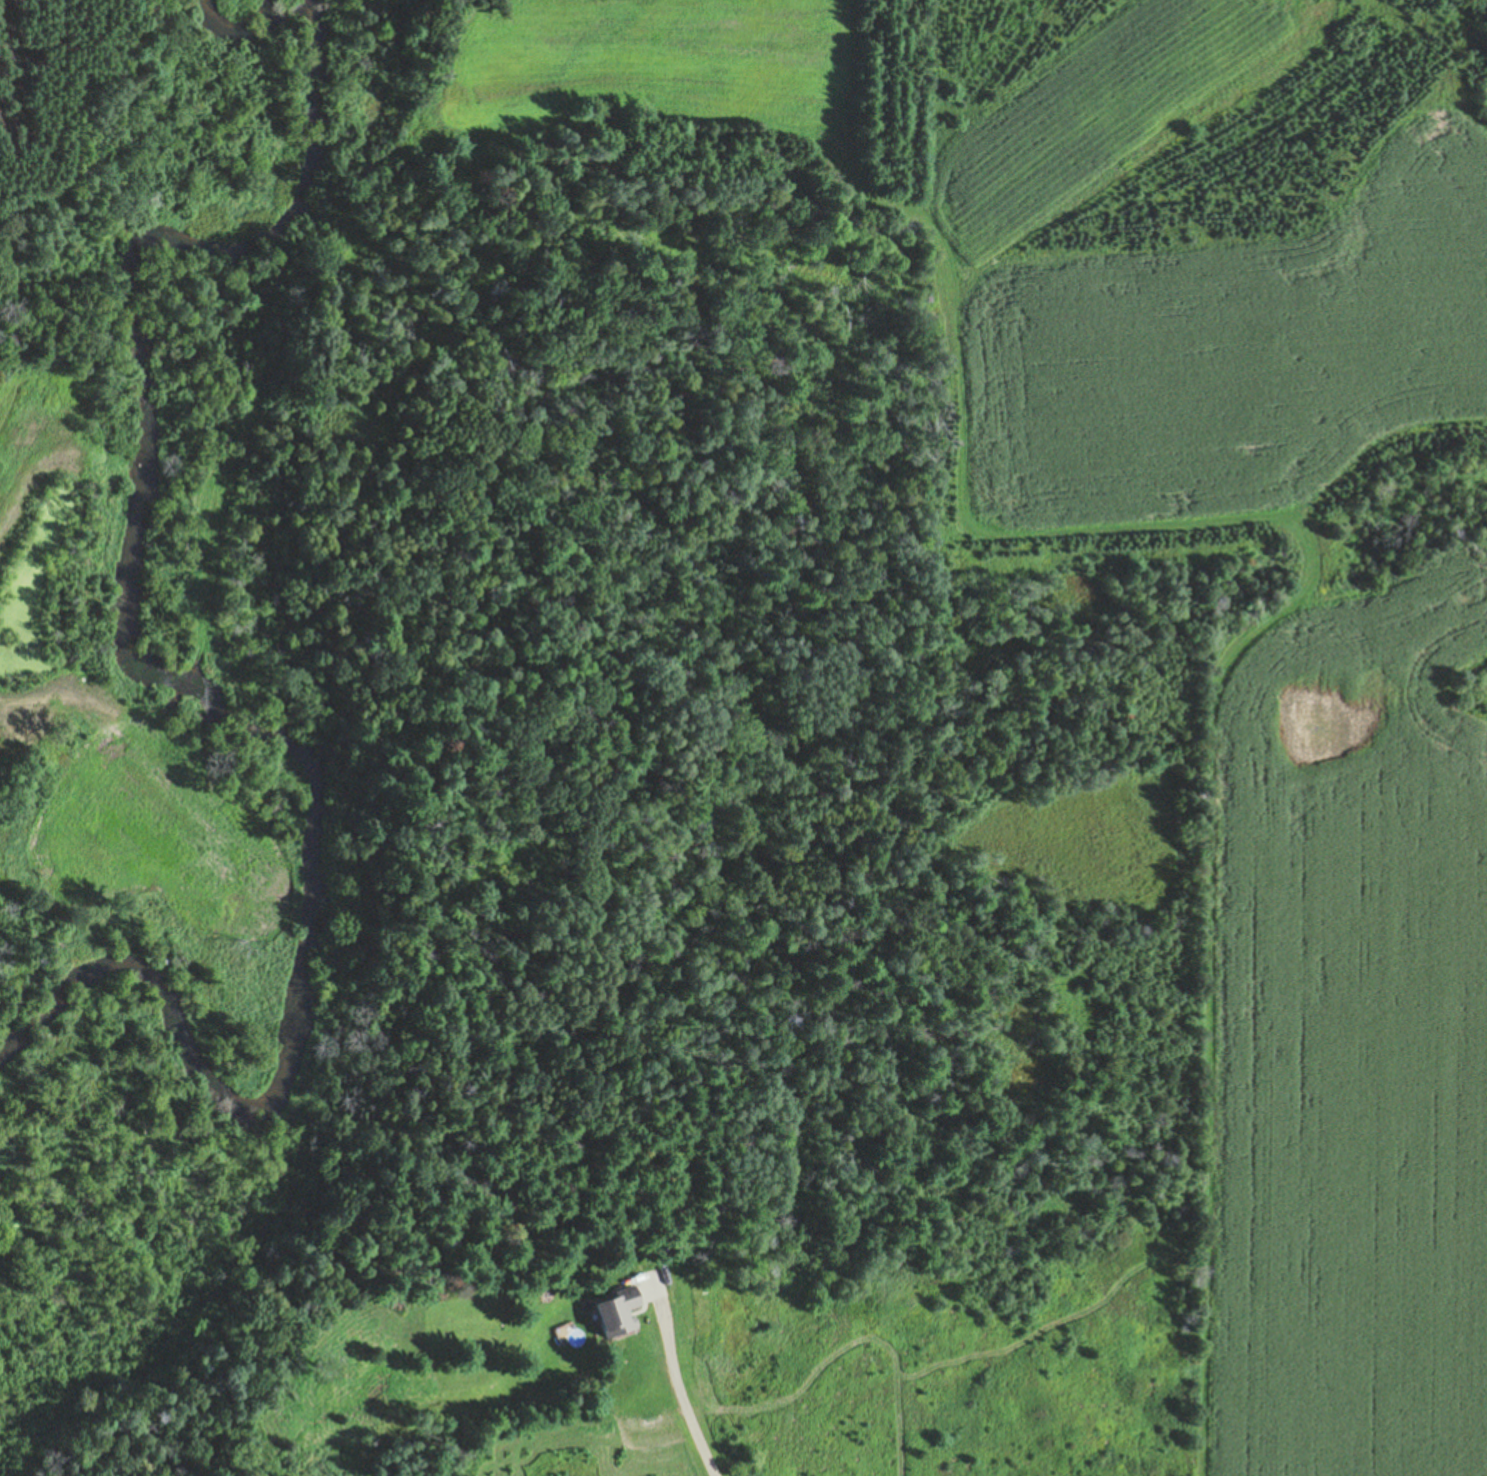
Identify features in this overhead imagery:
building: (617, 1312)

